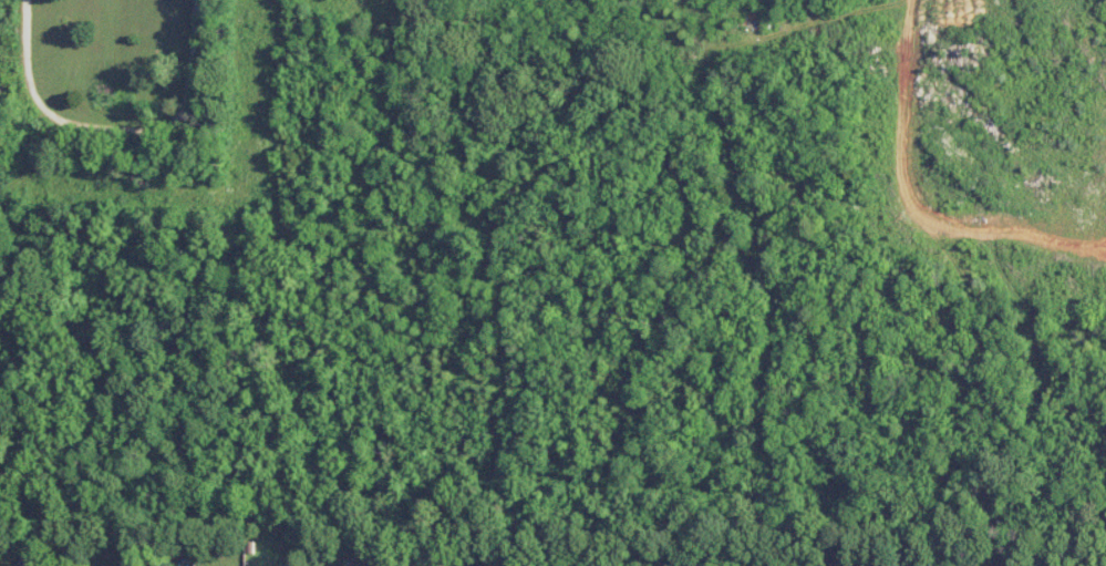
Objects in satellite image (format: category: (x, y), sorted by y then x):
road: (414, 562)

